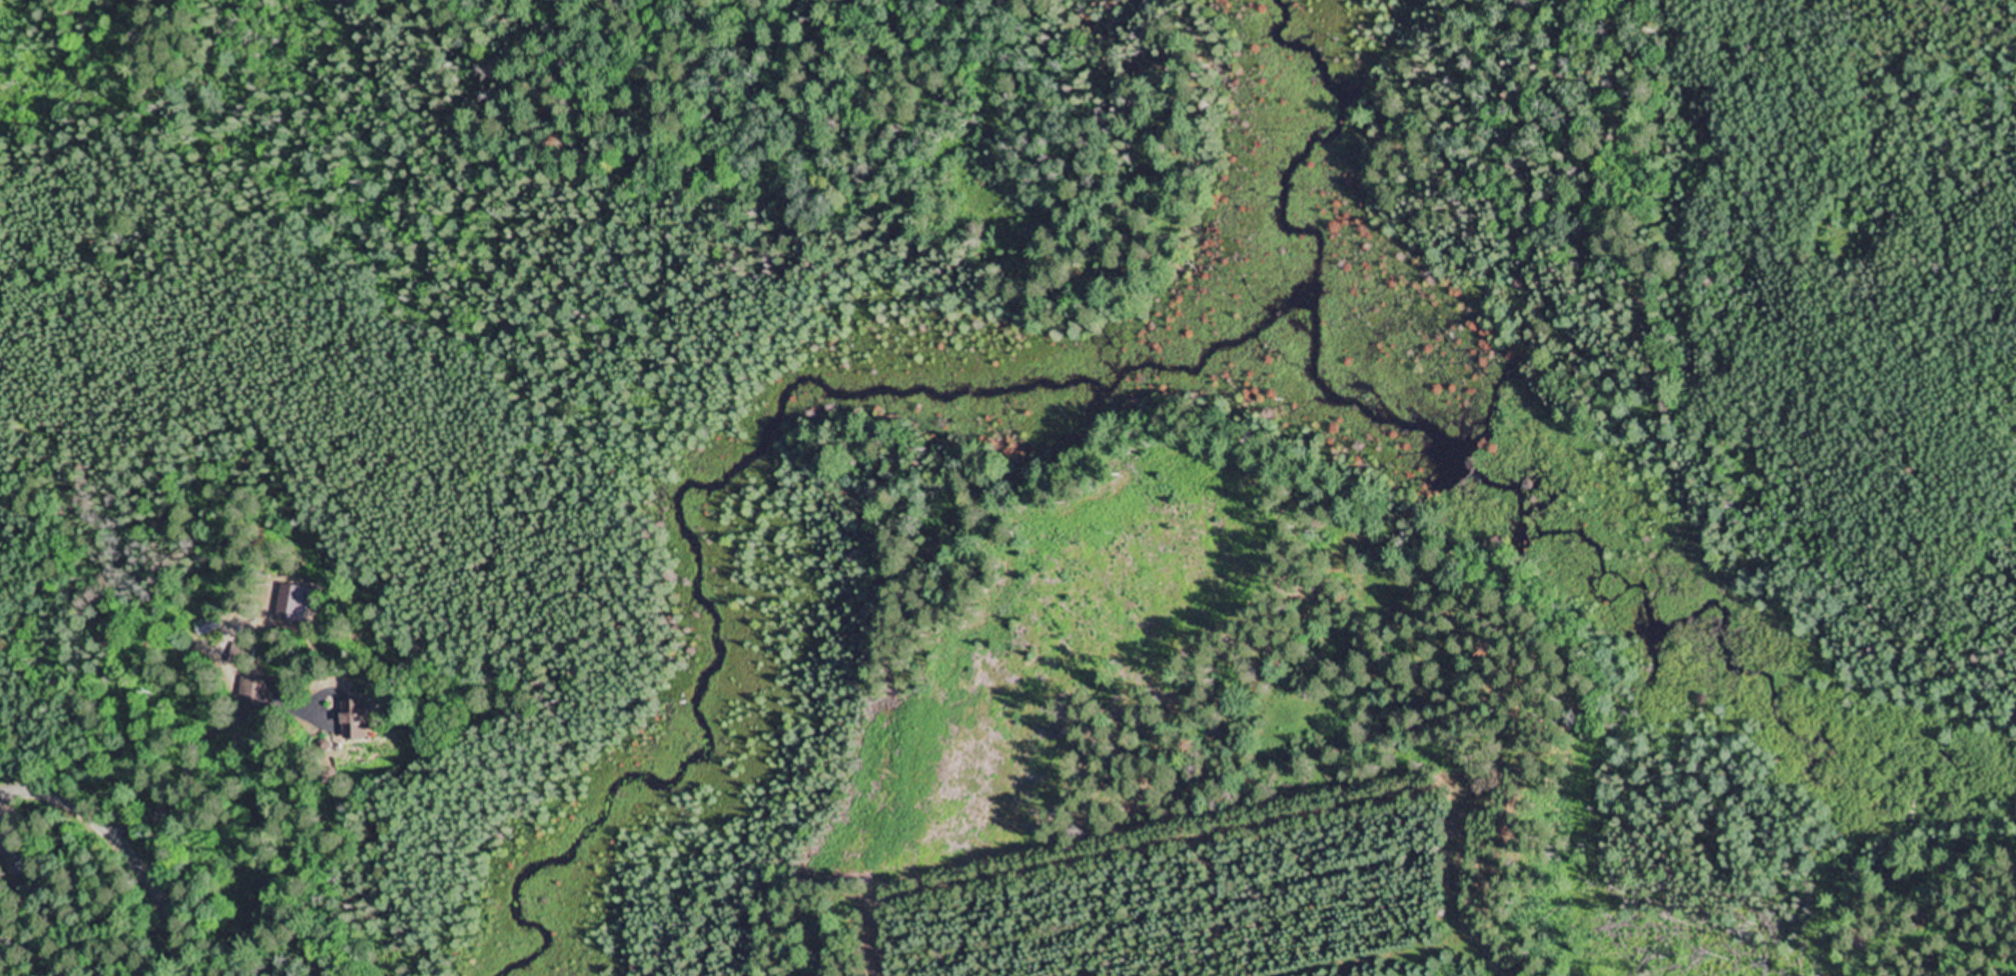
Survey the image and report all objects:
building: (290, 604)
building: (238, 655)
building: (252, 689)
building: (351, 722)
road: (126, 848)

